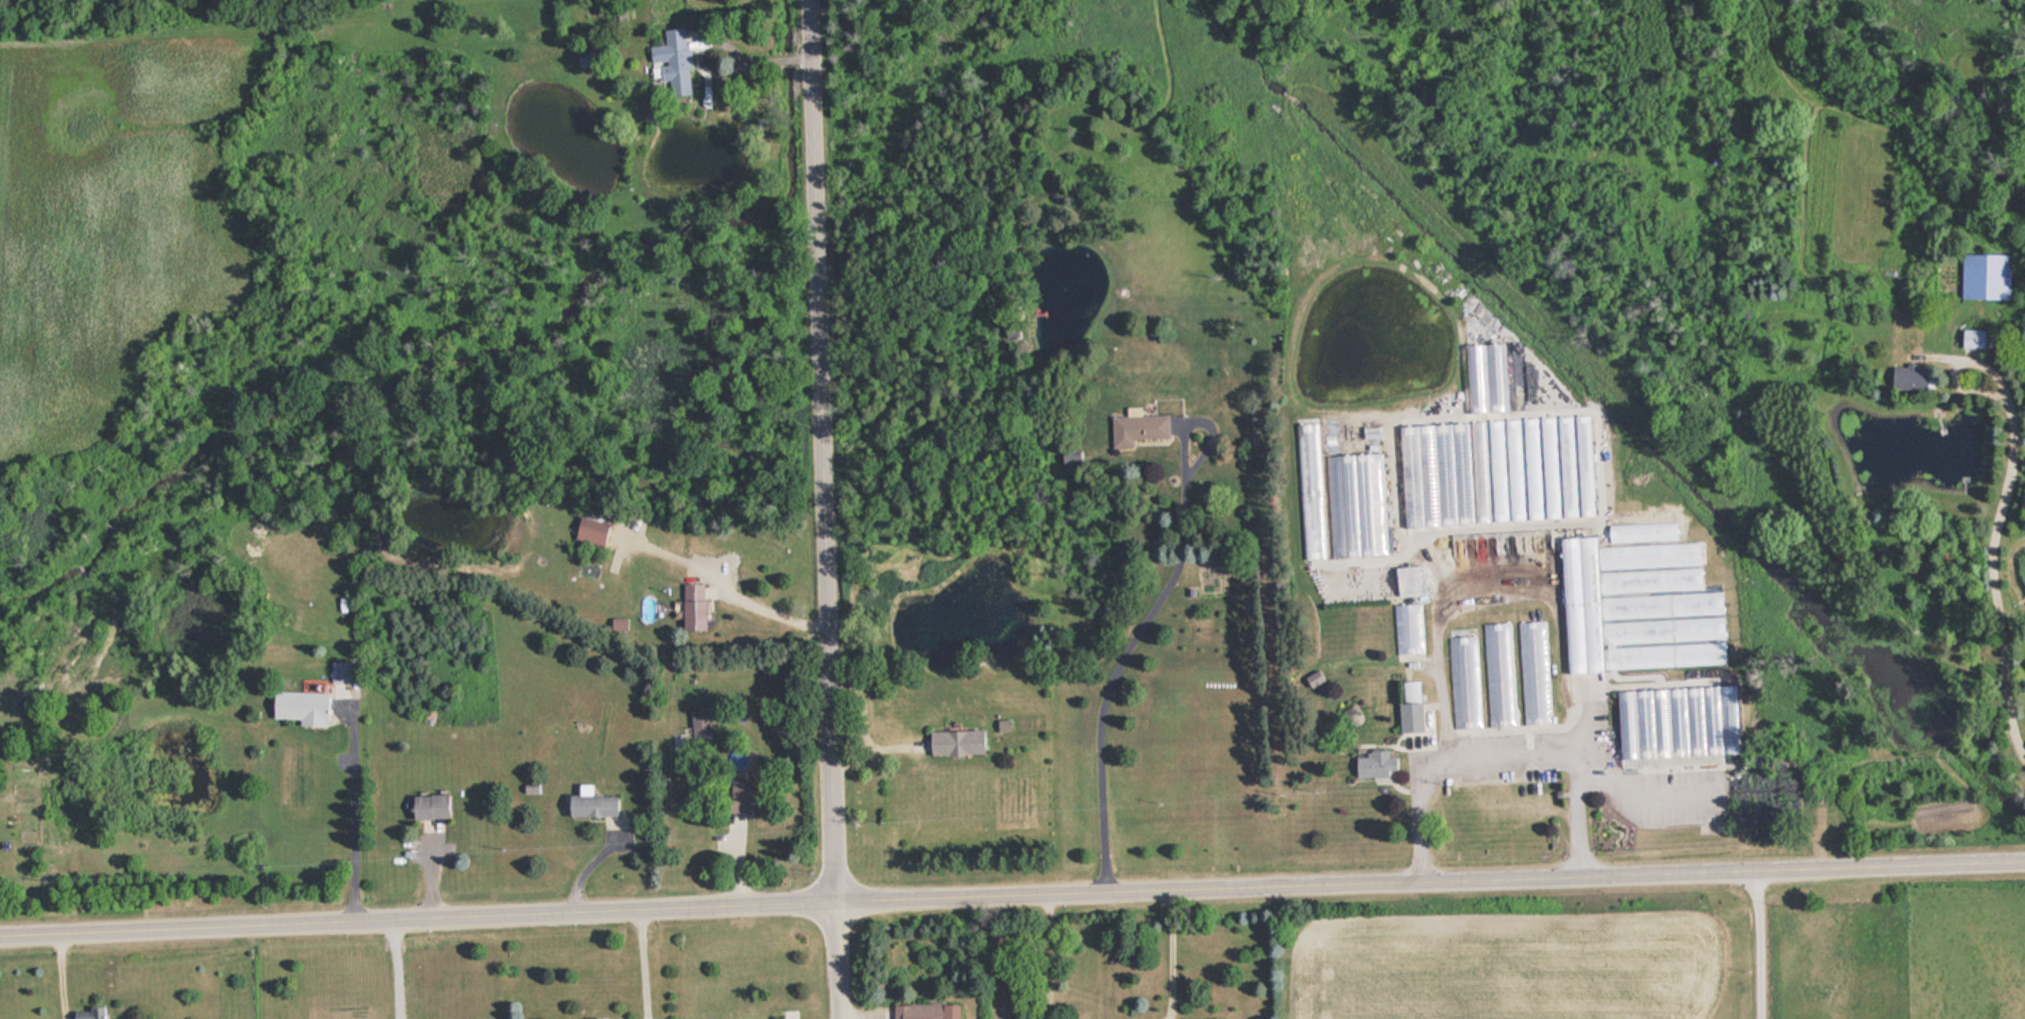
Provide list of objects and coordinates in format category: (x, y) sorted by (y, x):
building: (673, 61)
building: (1985, 276)
building: (1972, 339)
building: (1911, 379)
building: (1136, 427)
road: (823, 450)
building: (1494, 469)
building: (1357, 493)
building: (1309, 496)
building: (588, 531)
building: (340, 548)
building: (691, 606)
building: (1637, 606)
building: (1407, 629)
building: (1532, 672)
building: (1497, 674)
building: (339, 678)
building: (1463, 681)
building: (297, 707)
building: (1408, 707)
building: (704, 721)
building: (1669, 730)
building: (953, 742)
building: (1373, 765)
building: (742, 795)
building: (589, 804)
building: (426, 806)
road: (1430, 876)
road: (418, 914)
road: (1759, 941)
road: (837, 960)
building: (924, 1010)
building: (88, 1013)

